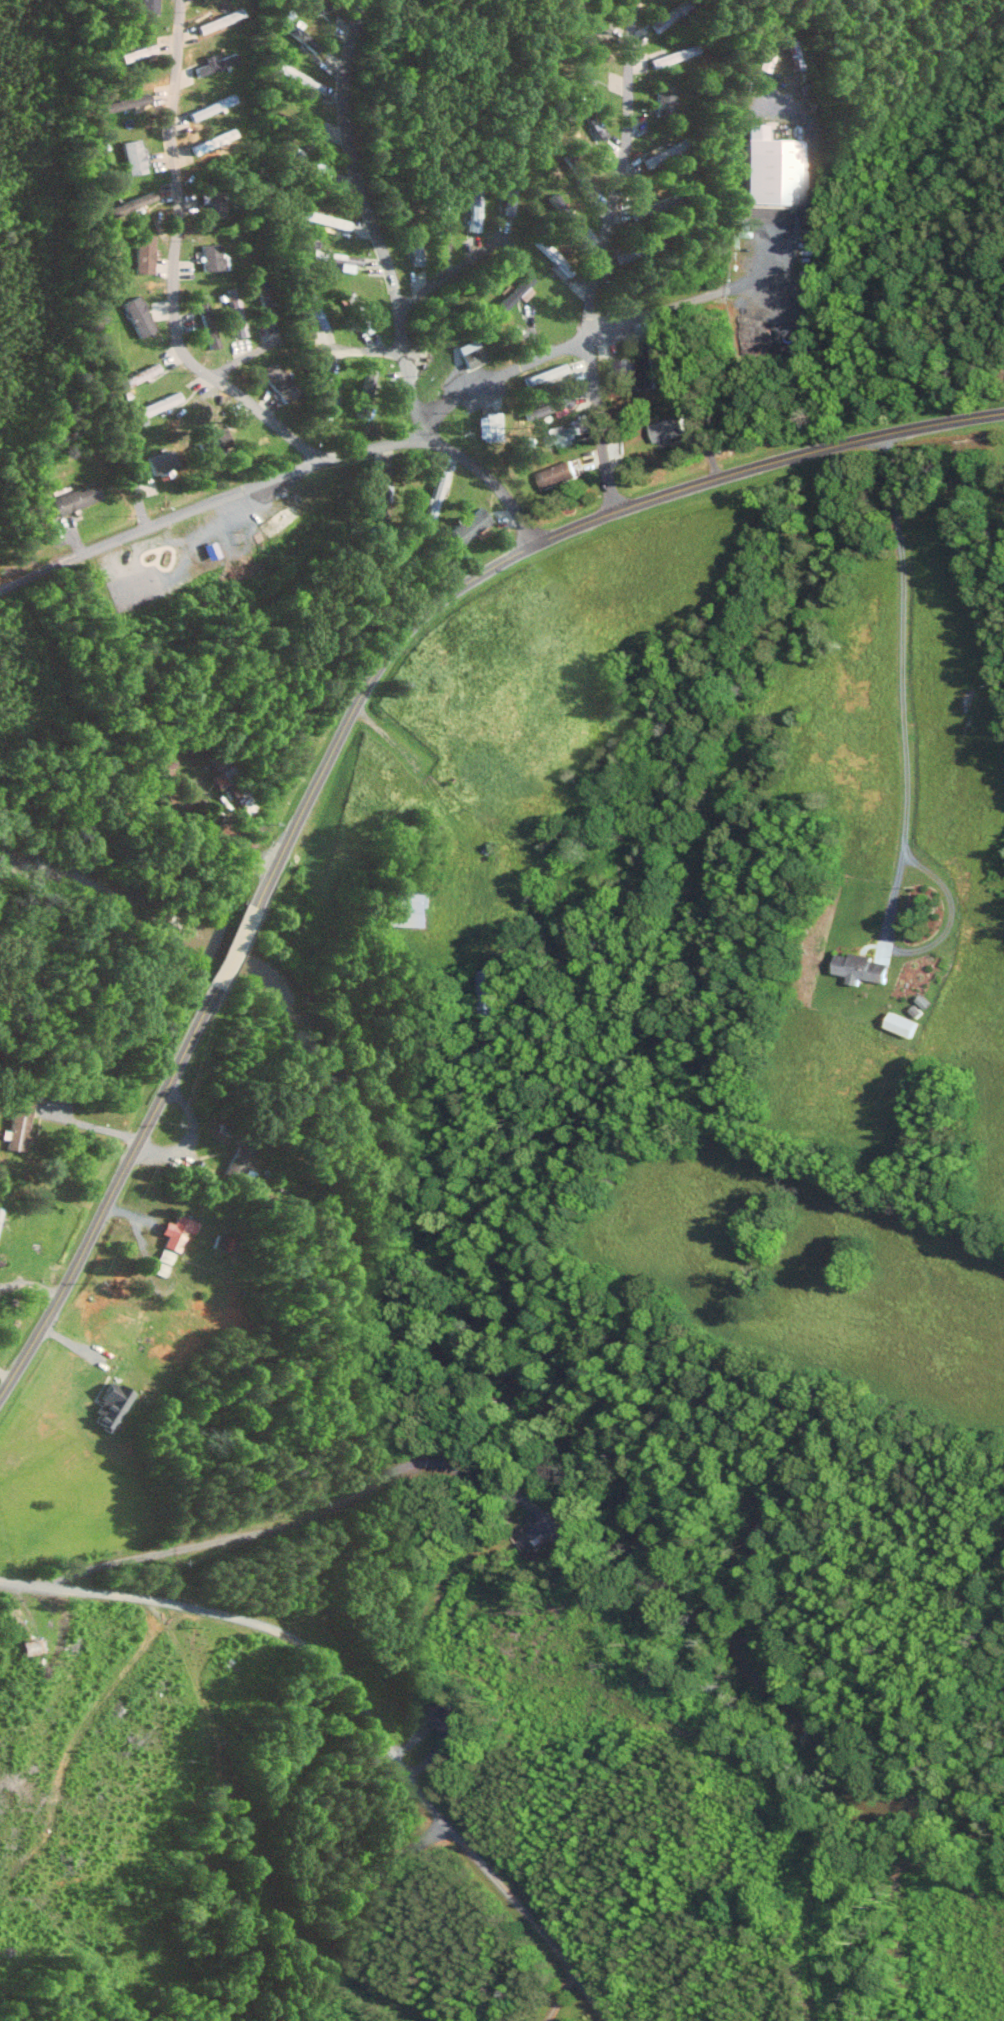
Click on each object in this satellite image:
building: (148, 6)
building: (672, 16)
building: (220, 21)
building: (295, 32)
building: (673, 57)
building: (765, 62)
building: (214, 64)
building: (299, 78)
building: (665, 100)
building: (125, 103)
building: (211, 108)
building: (207, 144)
building: (134, 157)
building: (771, 168)
building: (512, 203)
building: (132, 204)
building: (215, 207)
building: (475, 212)
building: (417, 250)
building: (143, 254)
road: (600, 255)
building: (212, 258)
road: (175, 265)
road: (450, 279)
road: (391, 292)
road: (729, 292)
building: (518, 293)
building: (265, 295)
building: (313, 308)
building: (236, 312)
building: (138, 317)
building: (208, 325)
road: (368, 354)
building: (471, 354)
road: (247, 357)
building: (647, 364)
building: (618, 373)
building: (544, 375)
building: (138, 376)
building: (280, 383)
building: (325, 388)
building: (157, 405)
building: (487, 427)
building: (667, 428)
building: (560, 435)
building: (212, 442)
road: (367, 452)
building: (159, 462)
building: (556, 475)
building: (436, 495)
building: (75, 499)
building: (469, 526)
road: (41, 573)
road: (344, 720)
road: (906, 773)
building: (240, 798)
building: (227, 836)
building: (408, 909)
building: (860, 969)
building: (489, 993)
building: (901, 1025)
road: (88, 1125)
building: (16, 1131)
road: (190, 1139)
building: (236, 1163)
building: (175, 1232)
building: (162, 1262)
road: (31, 1283)
road: (5, 1373)
building: (110, 1407)
road: (372, 1691)
building: (446, 1722)
road: (562, 1998)

